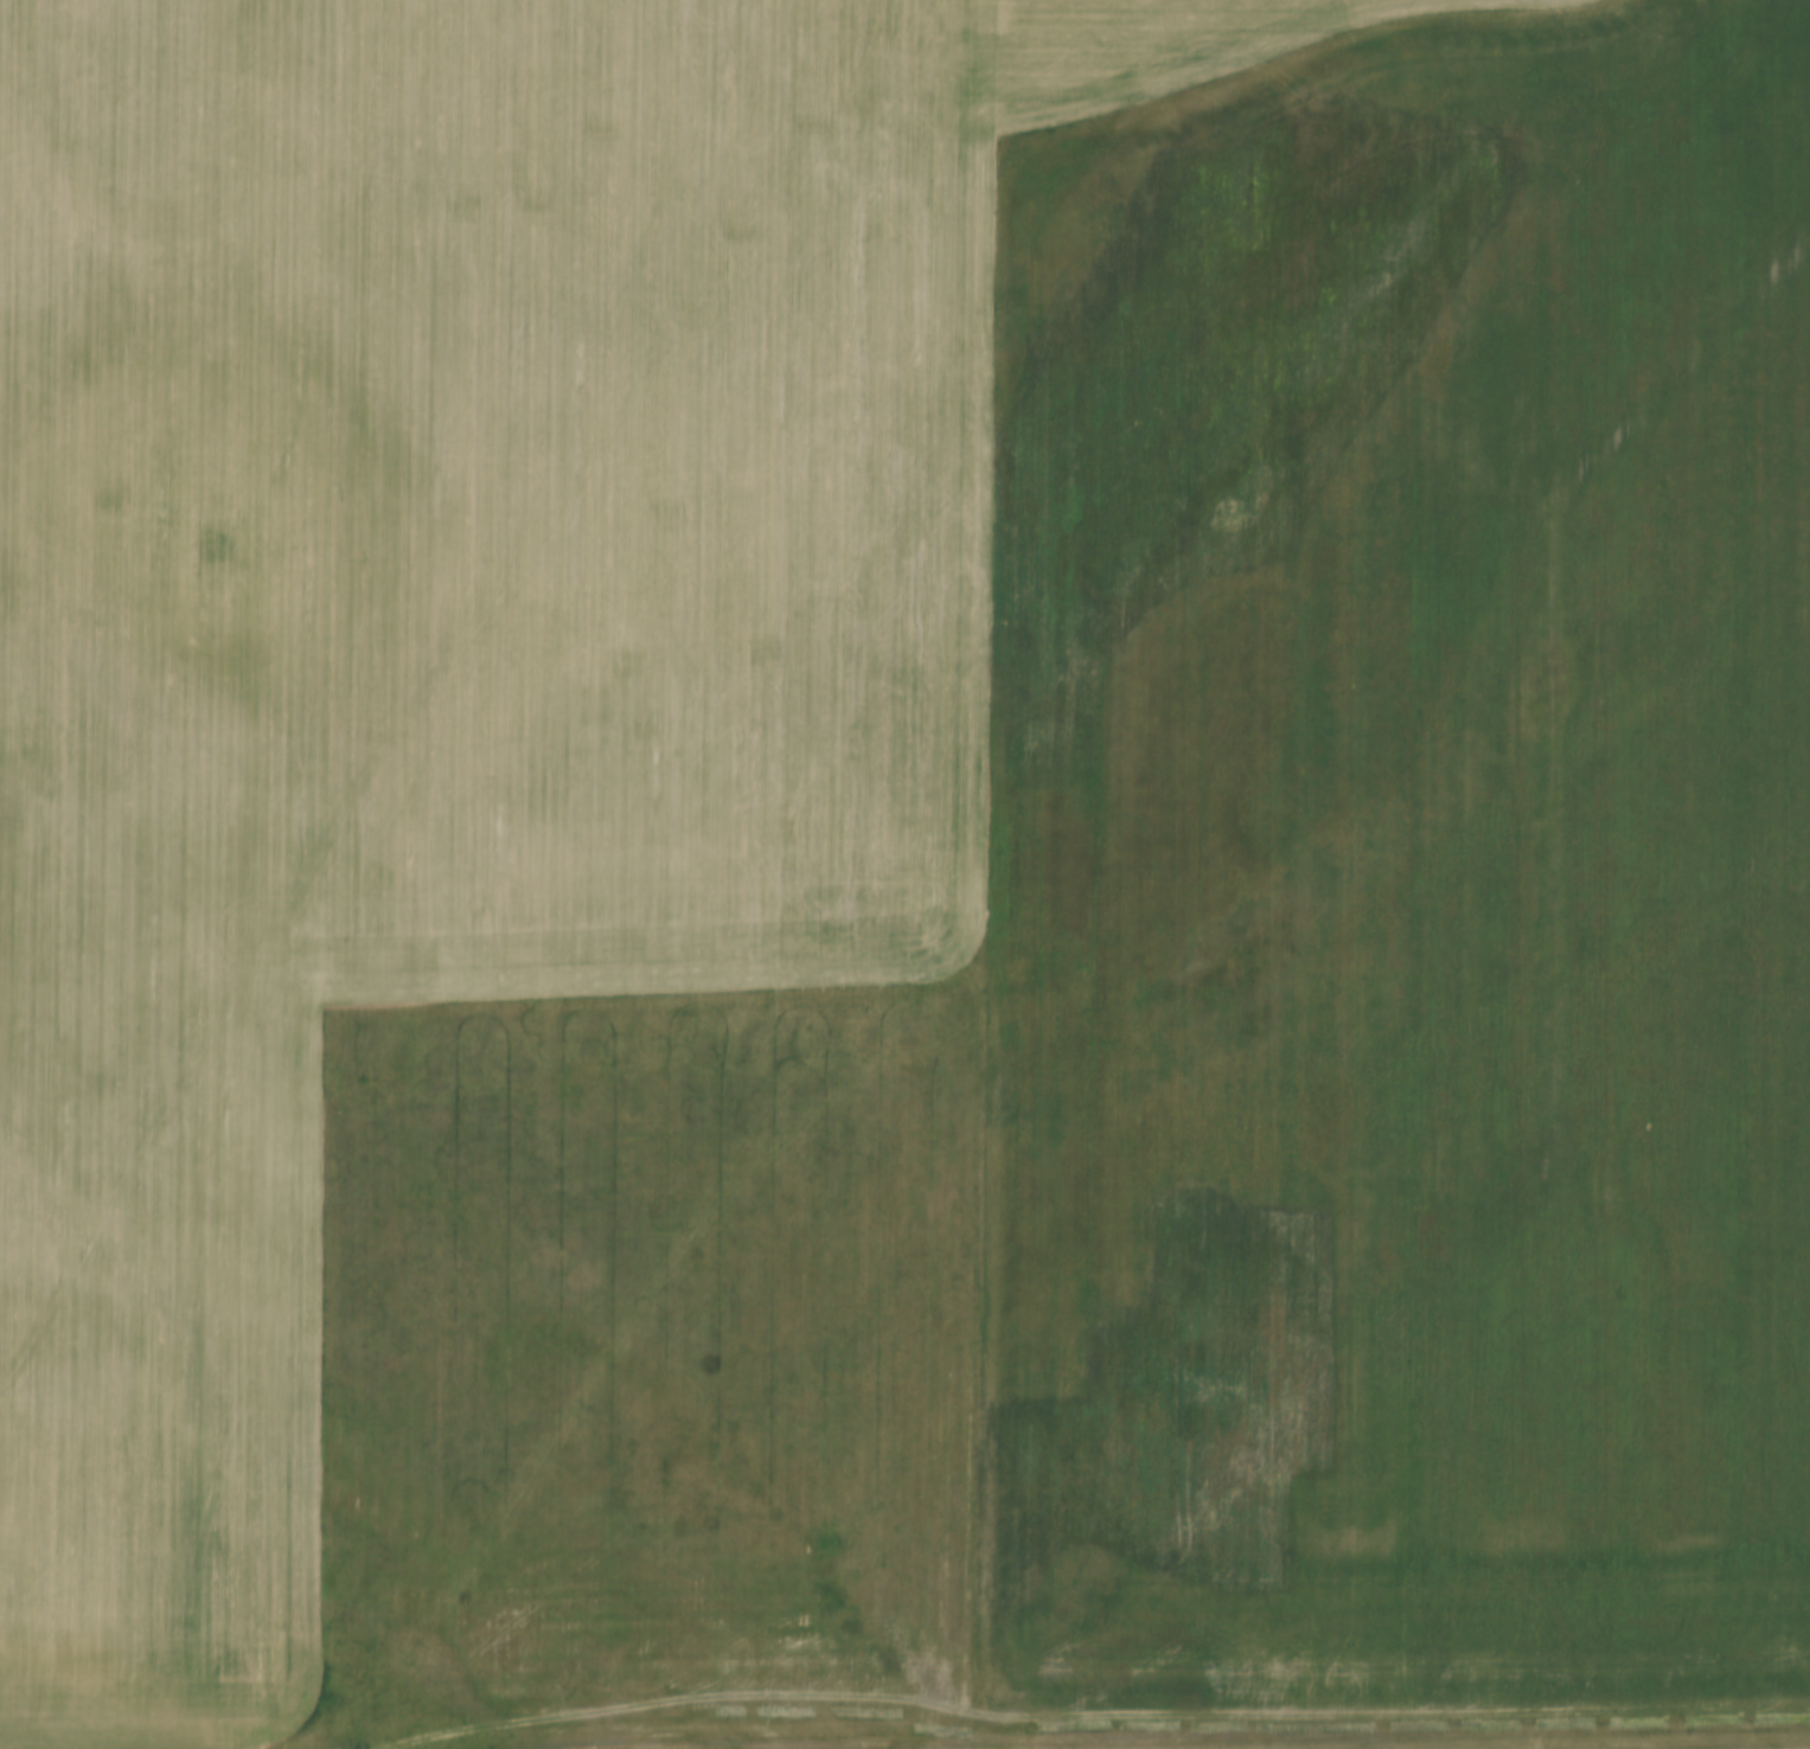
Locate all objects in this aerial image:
road: (1331, 1742)

